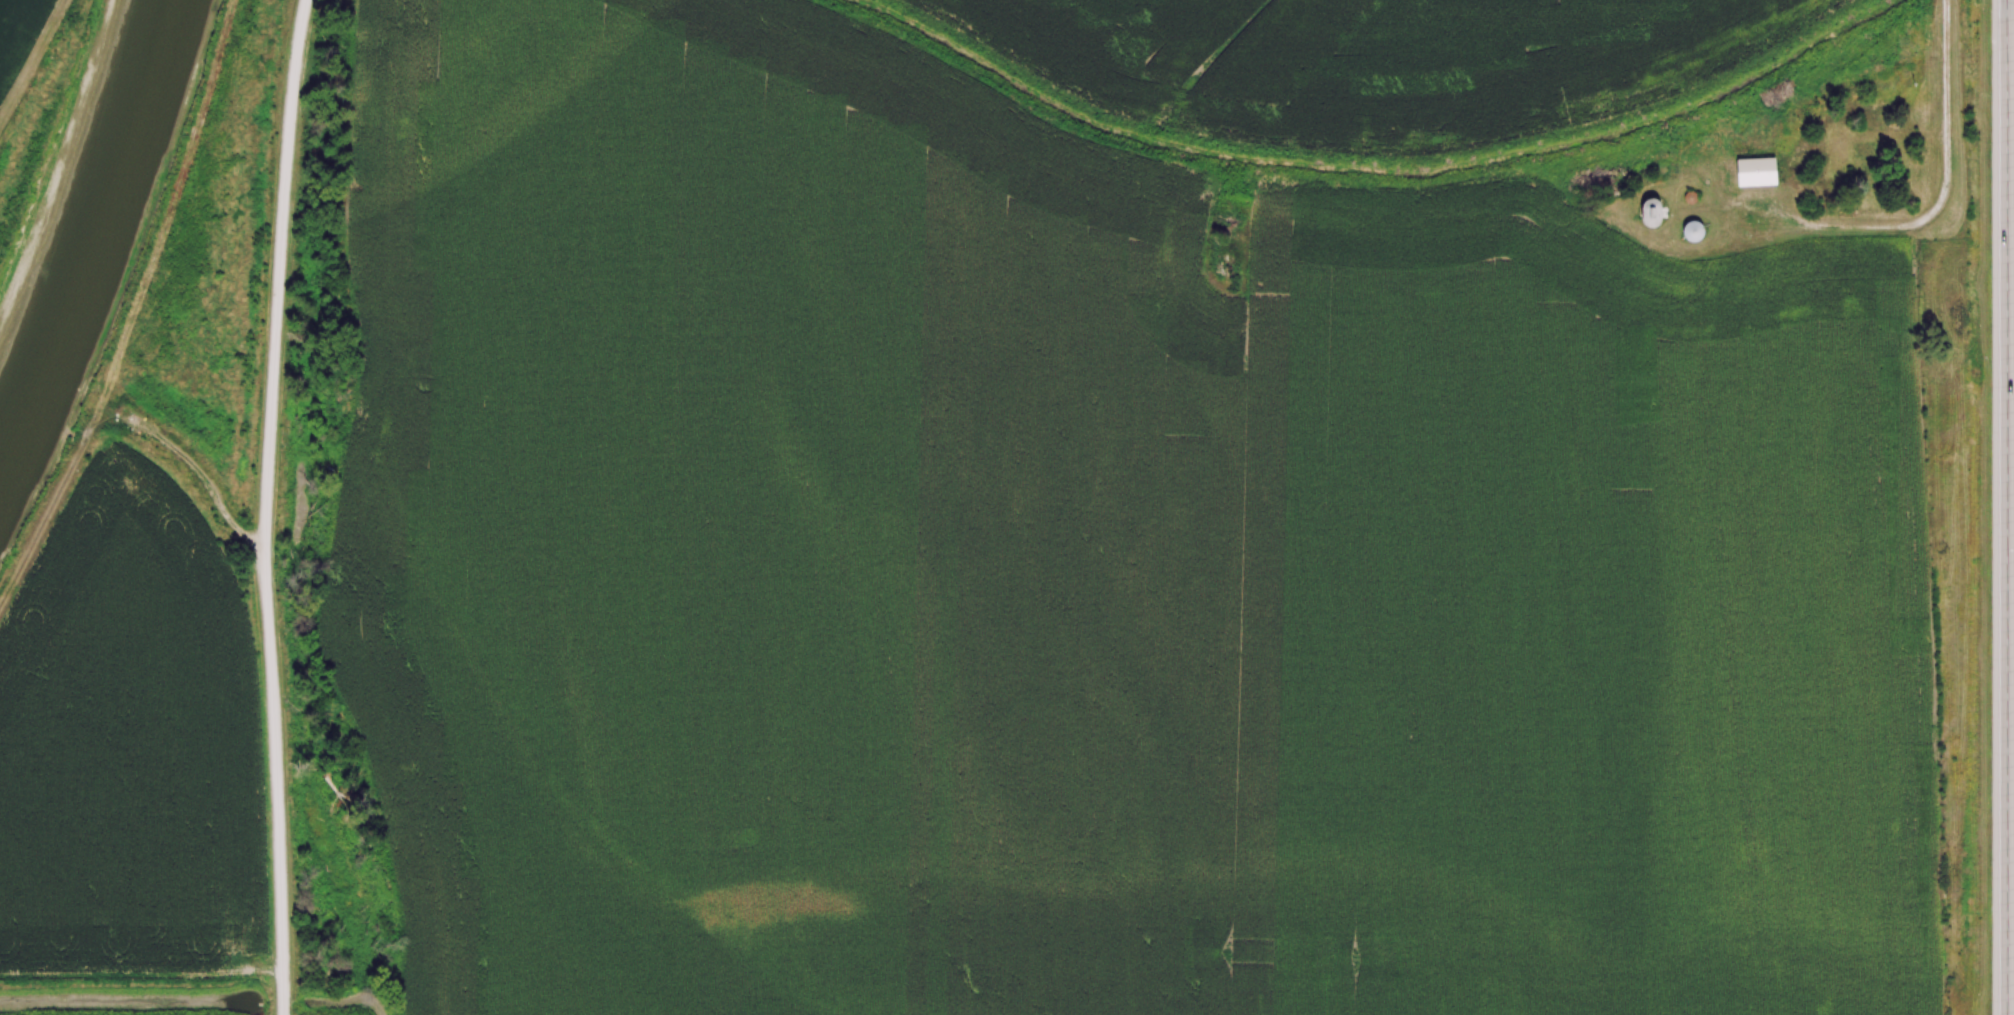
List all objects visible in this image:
road: (1946, 101)
building: (1839, 152)
building: (1760, 171)
river: (85, 224)
road: (267, 506)
road: (2007, 507)
crop: (1087, 565)

